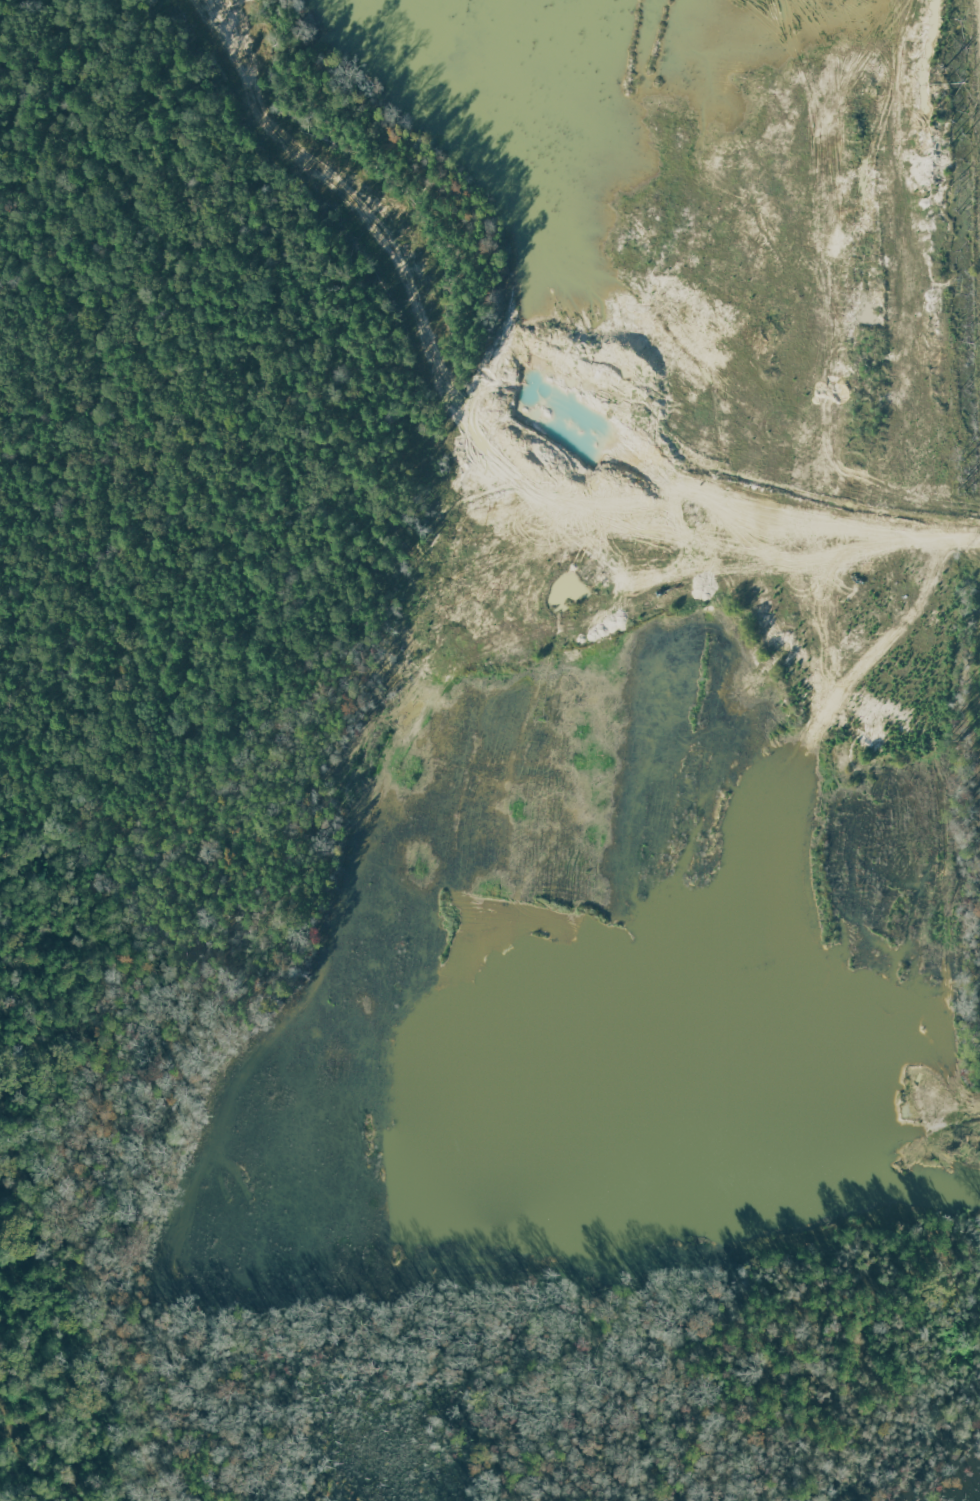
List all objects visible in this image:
road: (852, 517)
road: (831, 716)

